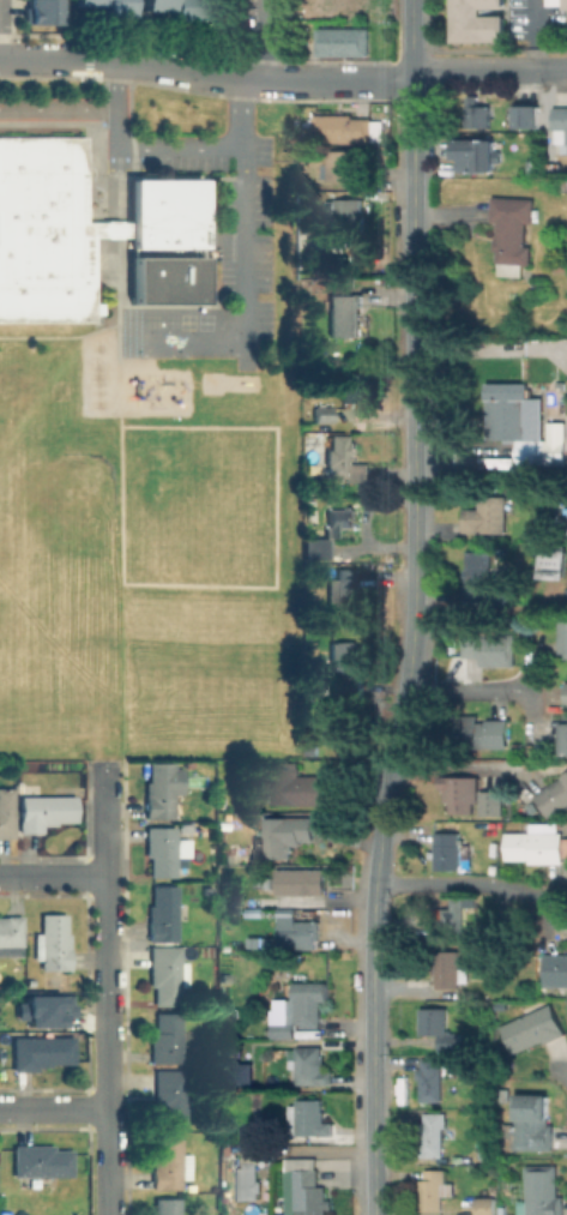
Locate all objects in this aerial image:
building: (565, 4)
building: (109, 5)
building: (177, 7)
building: (38, 12)
road: (530, 12)
building: (475, 20)
road: (411, 37)
road: (265, 40)
building: (344, 43)
road: (489, 70)
road: (206, 73)
building: (476, 113)
building: (529, 116)
building: (561, 122)
road: (412, 126)
building: (342, 128)
road: (167, 150)
building: (478, 155)
building: (350, 164)
building: (537, 170)
building: (563, 181)
building: (162, 212)
building: (345, 217)
building: (44, 230)
building: (512, 231)
road: (241, 240)
building: (163, 251)
building: (162, 279)
building: (345, 315)
building: (561, 363)
building: (354, 386)
building: (322, 413)
building: (525, 426)
building: (339, 457)
building: (357, 481)
building: (488, 515)
building: (340, 517)
building: (314, 545)
building: (554, 564)
building: (484, 578)
building: (349, 595)
building: (565, 636)
building: (490, 648)
building: (345, 667)
road: (469, 690)
building: (566, 692)
road: (404, 697)
building: (481, 730)
building: (565, 733)
building: (314, 744)
building: (295, 787)
building: (459, 788)
building: (162, 789)
building: (554, 794)
building: (494, 800)
building: (44, 811)
building: (6, 812)
building: (185, 825)
building: (286, 836)
building: (536, 846)
building: (164, 849)
building: (448, 849)
road: (54, 874)
building: (302, 883)
road: (465, 884)
building: (207, 889)
building: (163, 913)
building: (453, 918)
building: (11, 930)
building: (301, 933)
building: (270, 939)
building: (53, 942)
building: (448, 968)
building: (556, 968)
building: (167, 973)
building: (225, 978)
road: (108, 988)
building: (301, 1008)
building: (42, 1010)
building: (439, 1027)
building: (535, 1030)
building: (165, 1037)
building: (42, 1051)
building: (310, 1064)
building: (239, 1072)
building: (432, 1078)
building: (502, 1094)
building: (169, 1097)
road: (54, 1108)
building: (307, 1120)
building: (533, 1121)
building: (433, 1133)
building: (485, 1145)
building: (40, 1160)
building: (165, 1160)
building: (248, 1180)
building: (306, 1187)
building: (435, 1189)
building: (543, 1192)
building: (167, 1207)
building: (487, 1207)

